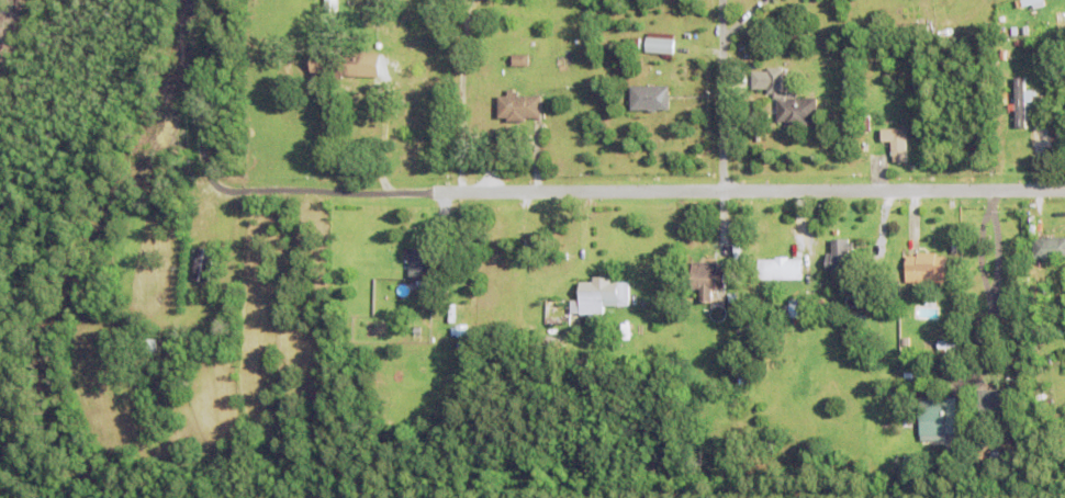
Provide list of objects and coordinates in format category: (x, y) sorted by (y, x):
building: (1024, 2)
building: (330, 5)
building: (632, 42)
building: (660, 45)
building: (540, 47)
building: (519, 59)
building: (335, 63)
road: (721, 94)
building: (650, 97)
road: (458, 98)
building: (1019, 101)
building: (518, 105)
building: (796, 110)
building: (864, 123)
building: (896, 142)
road: (380, 150)
road: (747, 189)
road: (285, 191)
building: (1036, 227)
building: (1049, 248)
road: (996, 251)
building: (845, 258)
building: (423, 262)
building: (202, 263)
building: (924, 268)
building: (778, 269)
building: (707, 279)
road: (988, 291)
building: (1046, 294)
building: (599, 295)
building: (1036, 313)
building: (1007, 315)
building: (417, 330)
building: (462, 330)
building: (623, 330)
building: (635, 331)
building: (548, 342)
building: (171, 343)
building: (149, 344)
building: (628, 360)
building: (742, 374)
building: (993, 407)
building: (1058, 412)
building: (937, 415)
building: (907, 422)
building: (895, 438)
building: (964, 443)
building: (951, 459)
building: (995, 461)
building: (909, 465)

